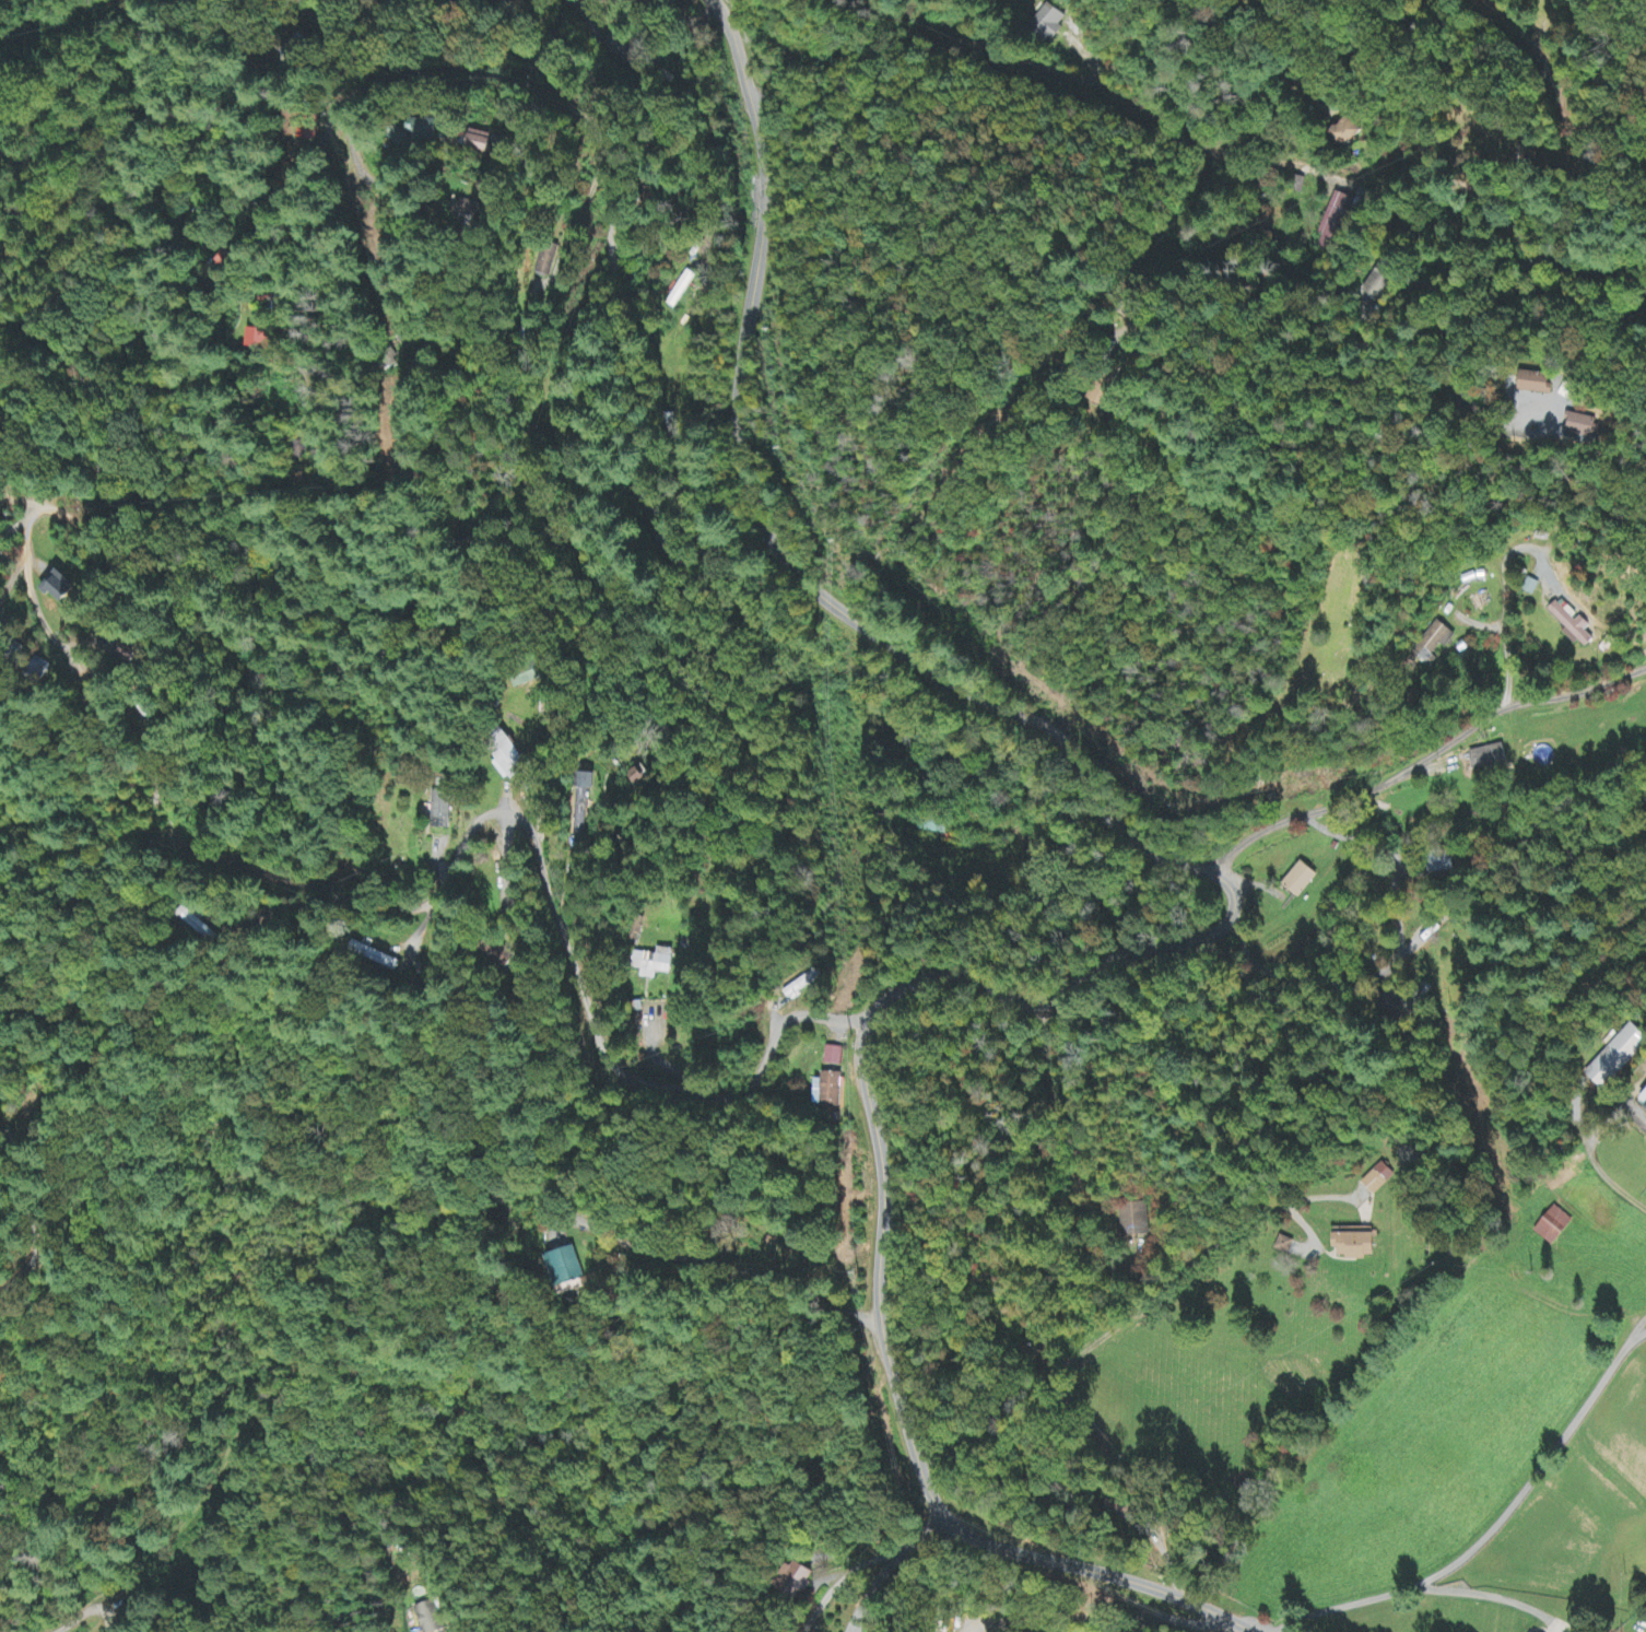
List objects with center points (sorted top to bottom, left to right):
road: (585, 15)
building: (1050, 21)
road: (734, 44)
road: (1091, 75)
road: (611, 94)
road: (1350, 97)
building: (1345, 131)
building: (428, 132)
building: (480, 143)
road: (454, 153)
road: (108, 157)
road: (322, 199)
building: (473, 213)
building: (1332, 222)
building: (544, 263)
road: (1330, 263)
road: (599, 275)
road: (1402, 283)
road: (418, 290)
road: (1429, 313)
road: (1223, 340)
building: (258, 342)
building: (1536, 384)
road: (1273, 423)
building: (1584, 427)
road: (368, 447)
road: (296, 501)
road: (150, 565)
building: (61, 589)
building: (1574, 626)
building: (1435, 642)
road: (124, 682)
road: (1415, 752)
building: (1489, 759)
building: (516, 764)
building: (584, 792)
building: (442, 810)
building: (933, 825)
building: (1302, 880)
building: (196, 923)
road: (556, 940)
road: (1210, 948)
building: (502, 952)
building: (375, 956)
building: (654, 963)
building: (834, 1056)
building: (1615, 1056)
building: (832, 1090)
road: (1616, 1134)
building: (1379, 1179)
building: (1133, 1221)
building: (1554, 1226)
building: (1356, 1244)
building: (1286, 1245)
building: (571, 1266)
road: (1609, 1398)
road: (240, 1461)
road: (1643, 1492)
road: (1498, 1506)
road: (626, 1553)
road: (869, 1564)
building: (799, 1580)
road: (84, 1616)
building: (430, 1618)

